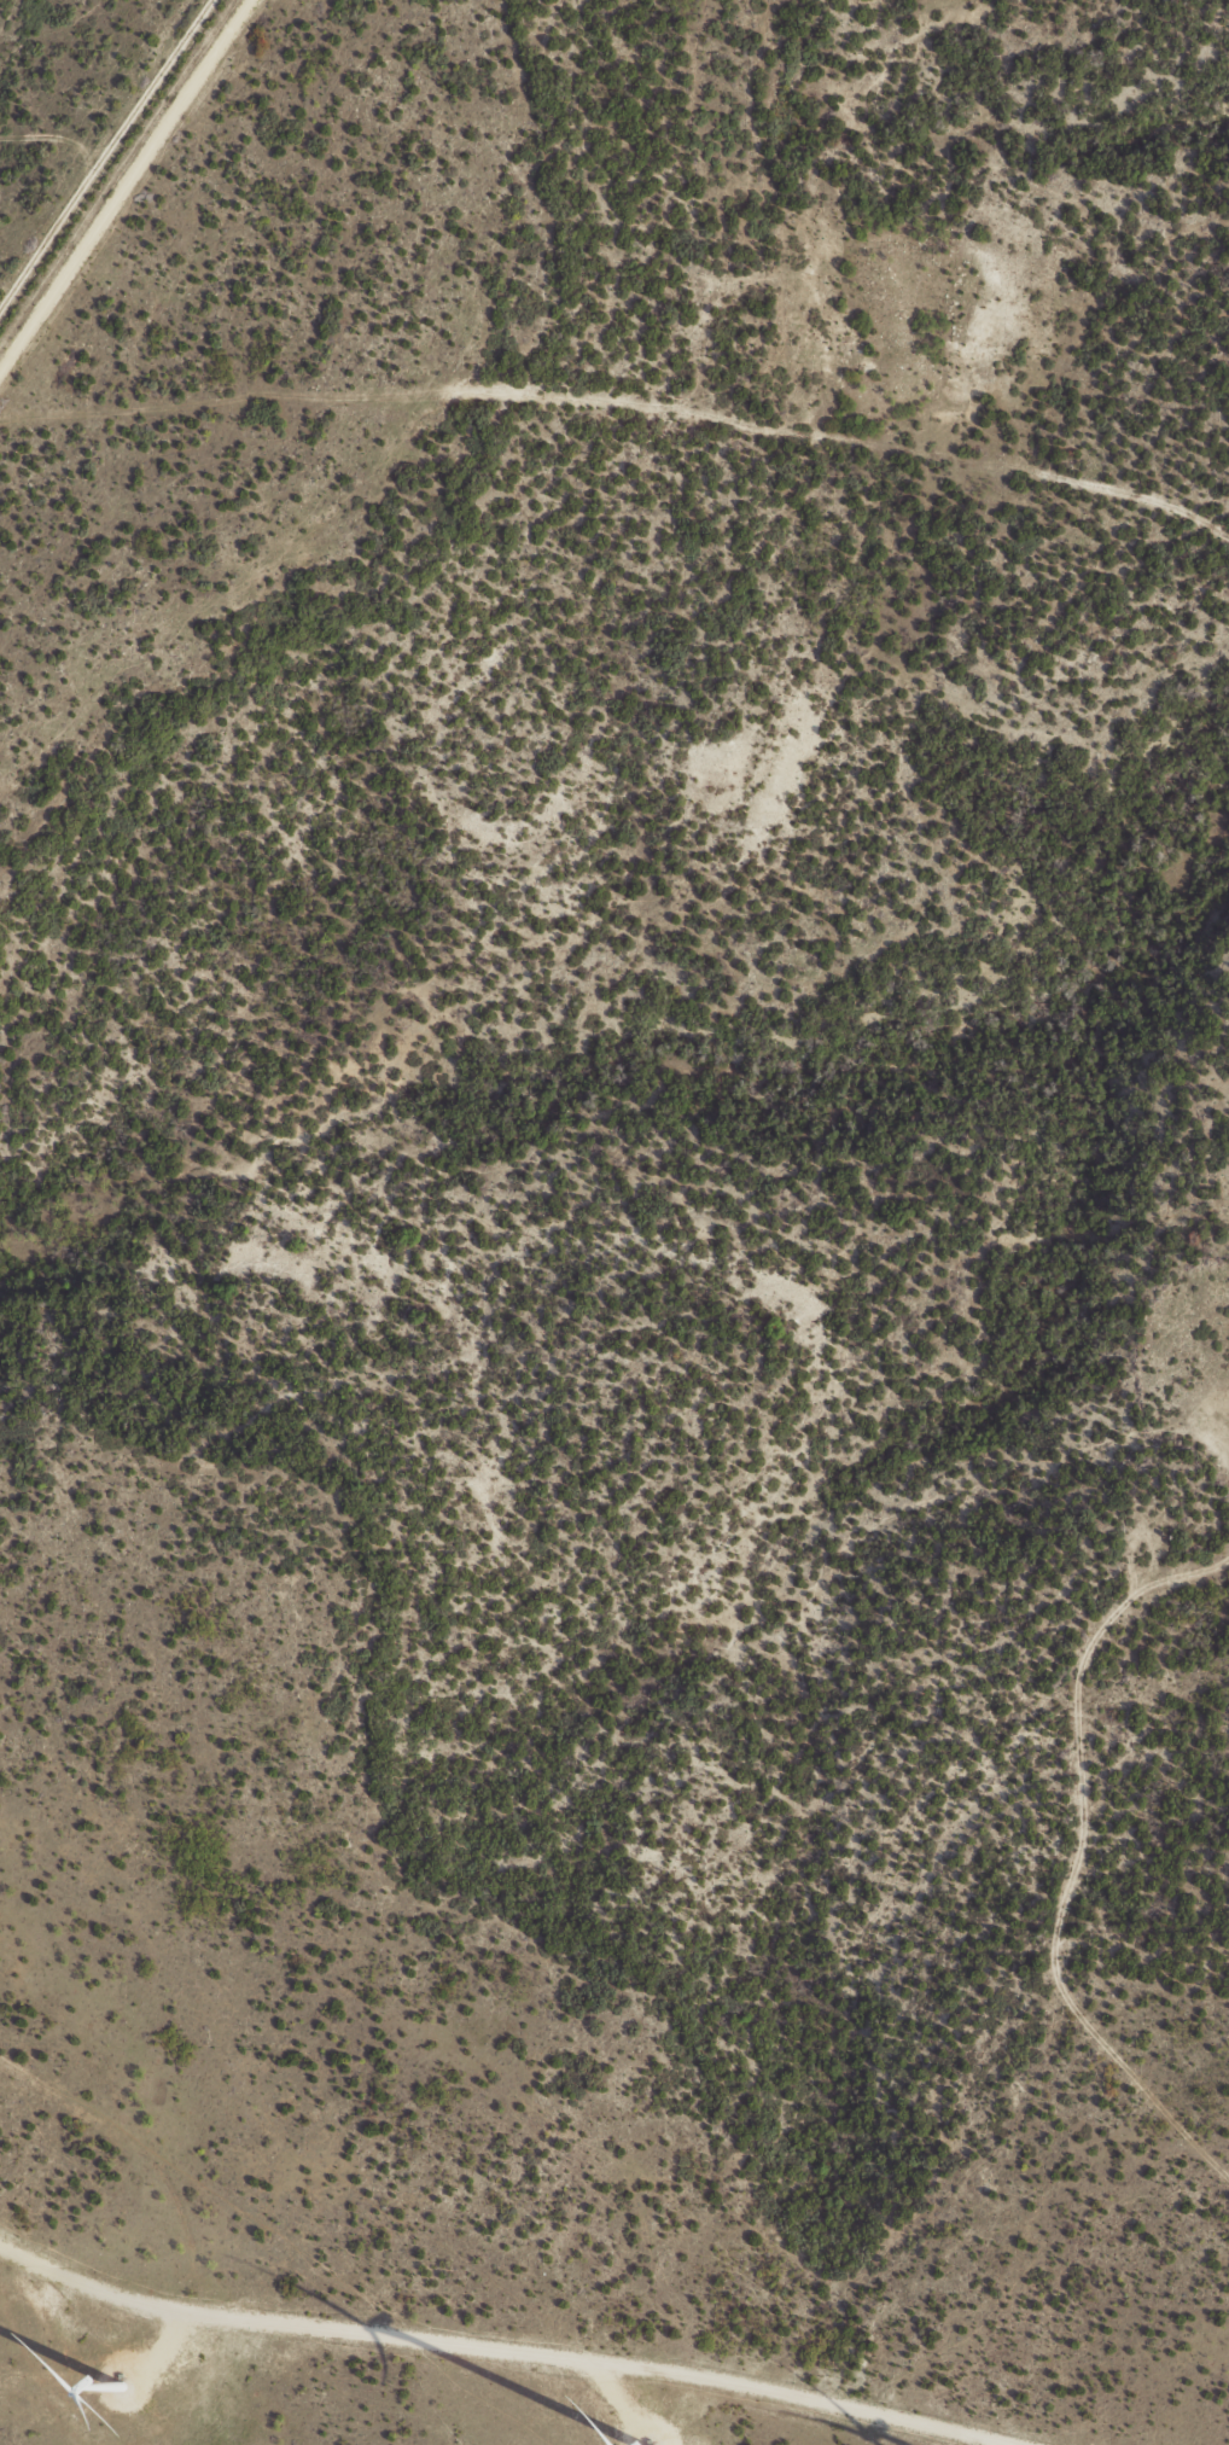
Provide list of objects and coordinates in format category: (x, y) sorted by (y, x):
road: (128, 187)
road: (505, 2351)
wind turbine: (121, 2386)

